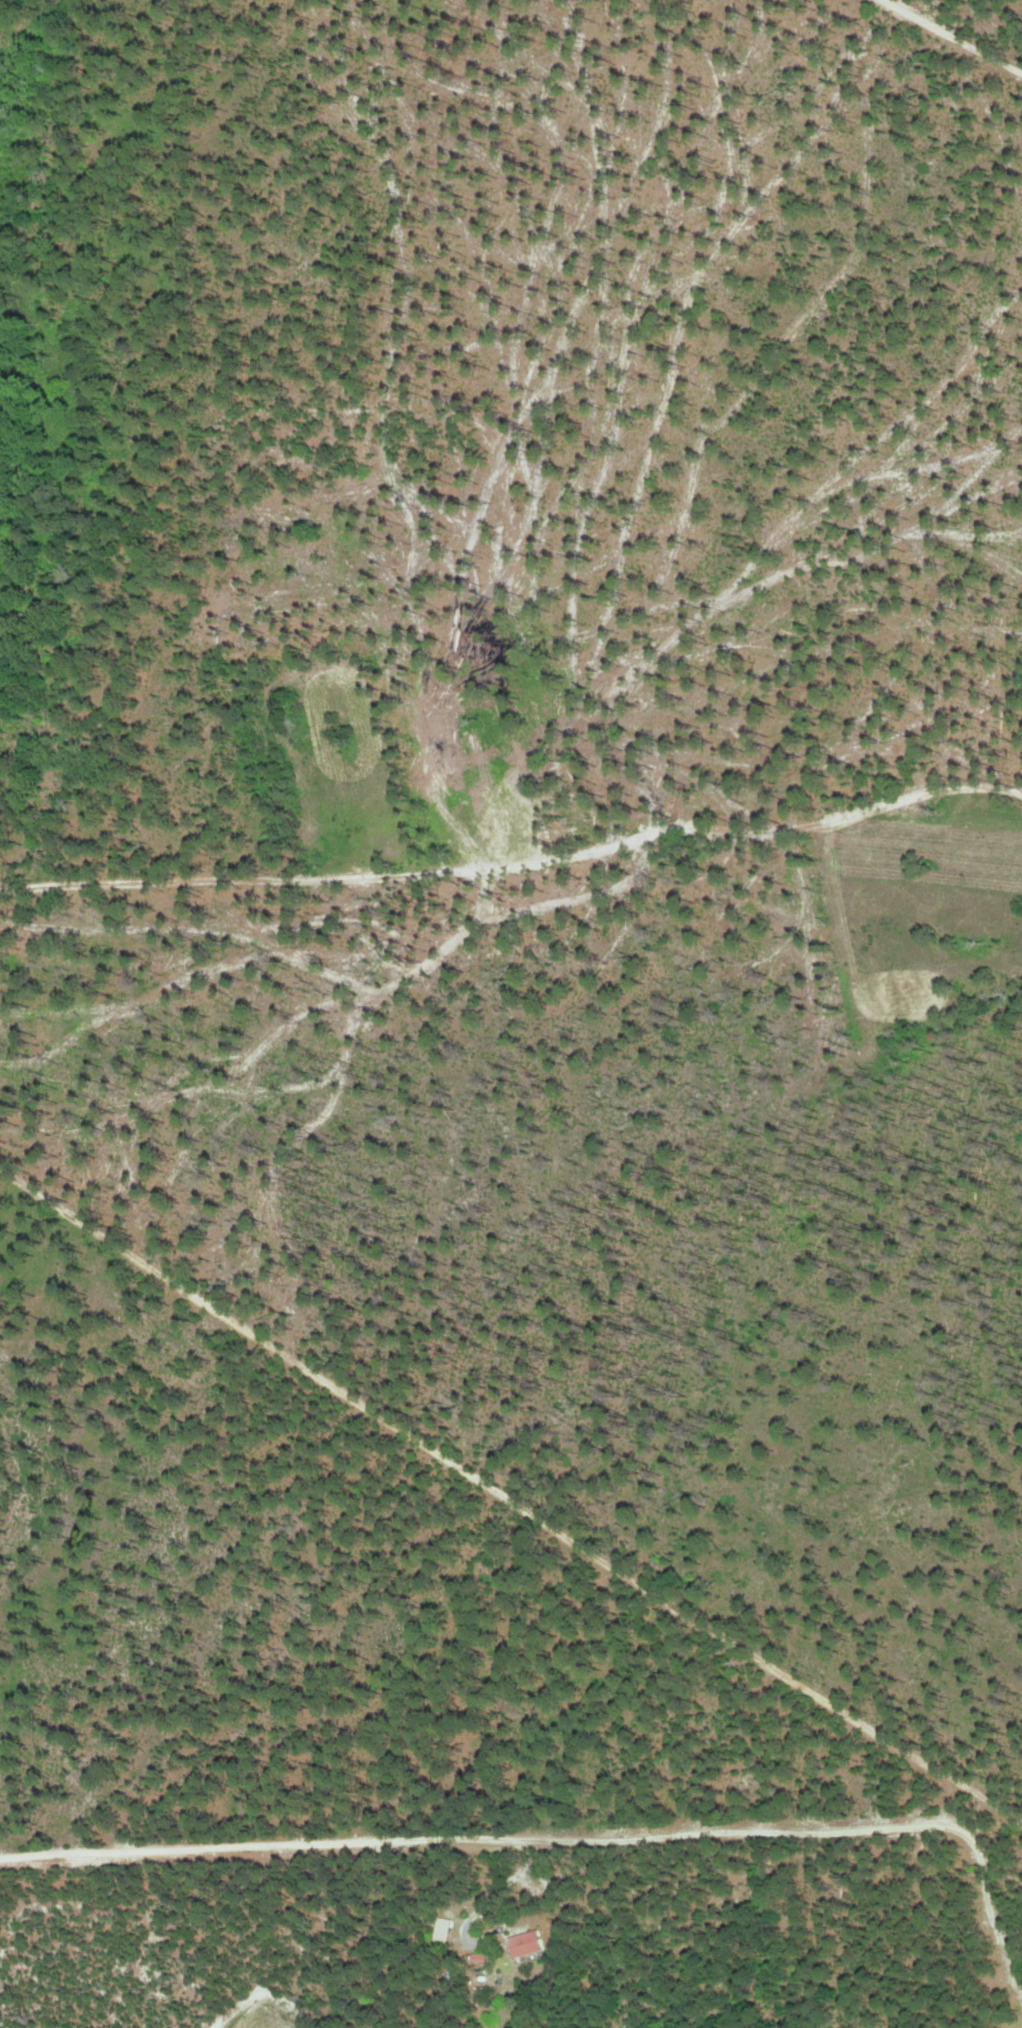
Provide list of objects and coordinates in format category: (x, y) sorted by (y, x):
building: (527, 1943)

